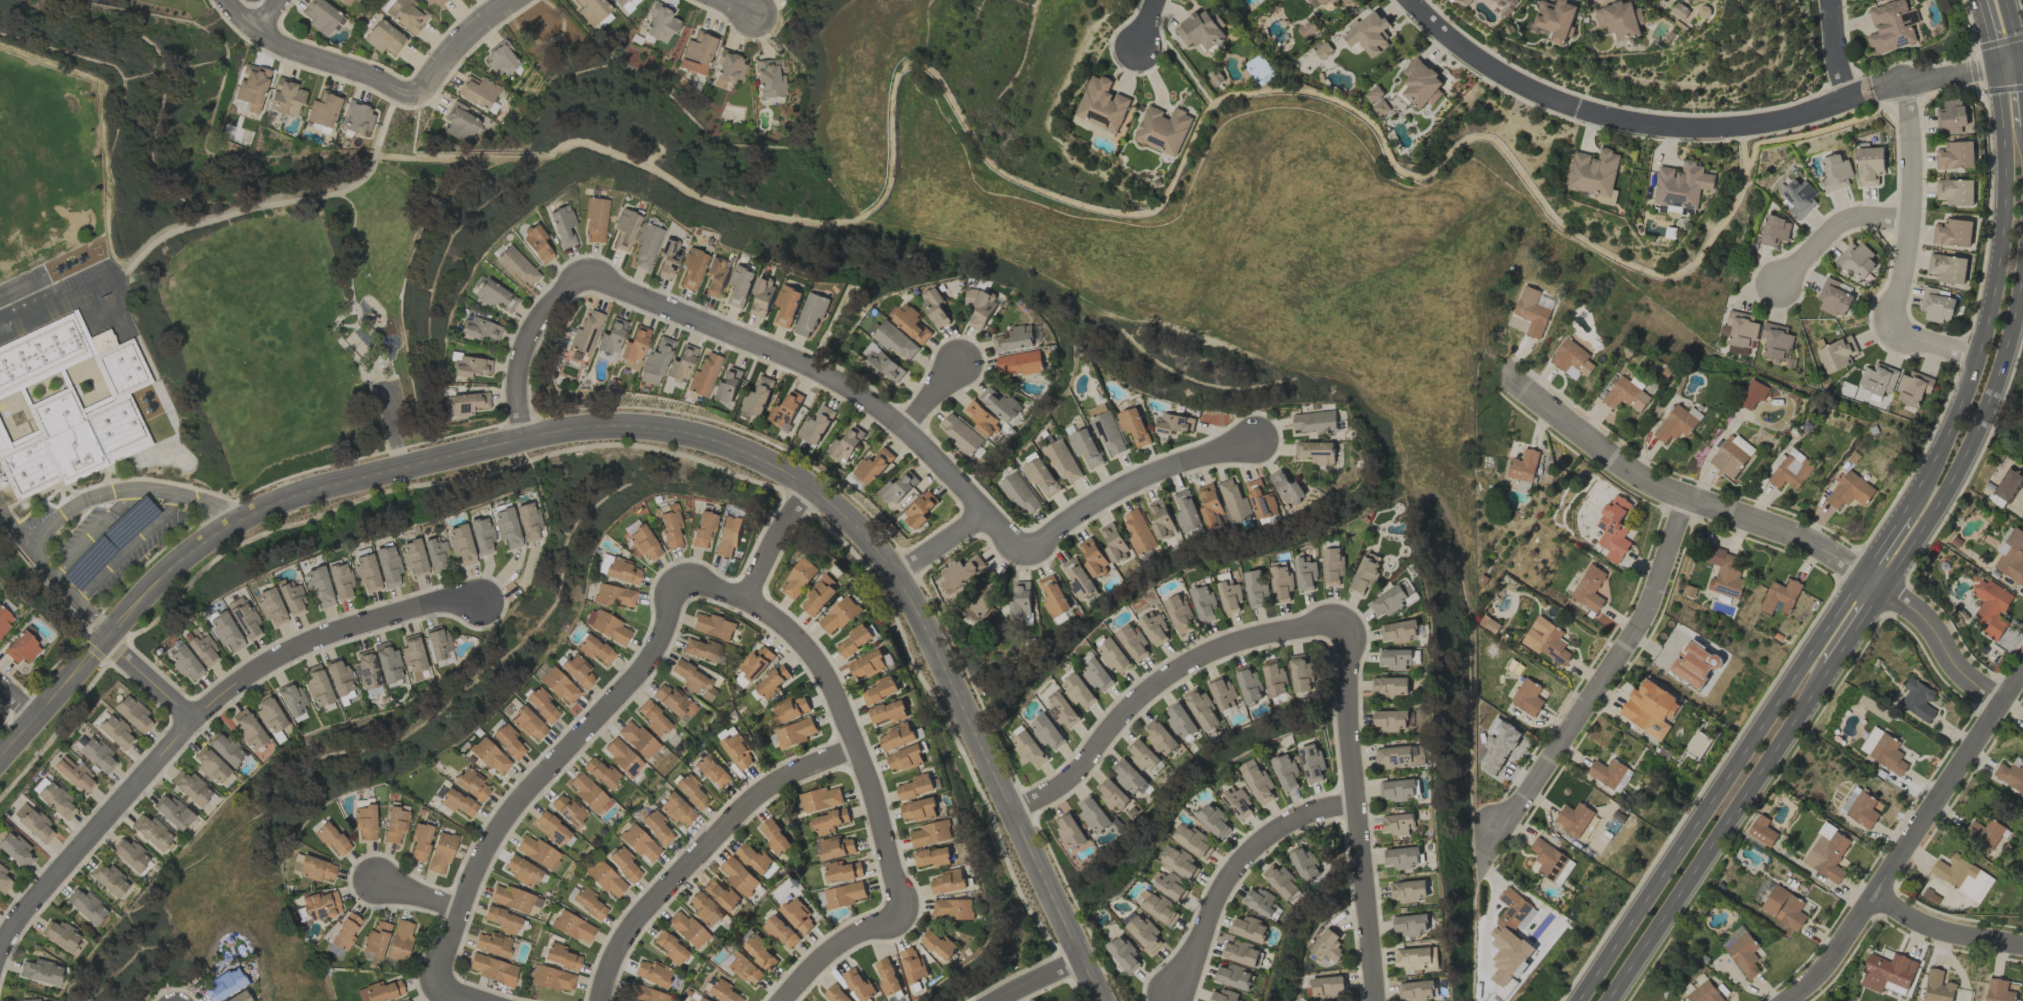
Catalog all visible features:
park: (251, 0)
building: (1345, 0)
building: (1321, 1)
building: (1332, 1)
building: (344, 2)
building: (434, 2)
building: (1508, 2)
building: (626, 4)
road: (739, 6)
building: (1679, 9)
building: (592, 10)
building: (407, 15)
road: (255, 17)
road: (271, 17)
building: (323, 17)
building: (1556, 19)
building: (1620, 19)
building: (660, 23)
road: (1145, 25)
building: (1891, 26)
building: (1201, 29)
road: (2012, 30)
building: (1368, 33)
road: (1985, 33)
building: (383, 38)
road: (462, 46)
building: (1322, 50)
road: (1838, 50)
building: (697, 53)
road: (320, 56)
building: (502, 60)
road: (2022, 61)
traffic signals: (2022, 62)
road: (2008, 64)
road: (2022, 66)
traffic signals: (1995, 67)
building: (729, 69)
road: (1933, 79)
building: (769, 80)
building: (1420, 83)
building: (252, 87)
building: (478, 92)
building: (1372, 94)
building: (285, 98)
building: (1101, 104)
building: (1380, 108)
building: (323, 110)
building: (1951, 116)
building: (358, 118)
road: (1625, 121)
building: (460, 123)
building: (1162, 129)
building: (1955, 155)
building: (1869, 165)
building: (1593, 171)
building: (1834, 172)
building: (1681, 184)
building: (1954, 191)
road: (1162, 195)
building: (1797, 196)
building: (1608, 198)
road: (276, 204)
road: (1906, 209)
building: (596, 219)
building: (563, 227)
building: (625, 230)
building: (1774, 230)
road: (1832, 232)
building: (1952, 232)
building: (537, 244)
building: (646, 246)
building: (668, 259)
building: (1856, 259)
building: (517, 267)
building: (1947, 267)
building: (692, 268)
building: (715, 276)
building: (739, 285)
building: (762, 295)
building: (496, 296)
building: (1834, 298)
road: (1992, 298)
building: (786, 304)
building: (1936, 305)
building: (934, 307)
building: (981, 309)
building: (1533, 310)
building: (810, 313)
road: (335, 321)
park: (288, 322)
building: (910, 323)
building: (480, 329)
building: (1739, 331)
road: (722, 332)
building: (584, 336)
building: (1013, 339)
building: (610, 340)
building: (894, 340)
building: (1775, 340)
road: (1933, 345)
building: (633, 347)
building: (1836, 353)
building: (1569, 357)
building: (655, 362)
building: (882, 362)
building: (1019, 363)
building: (681, 364)
building: (470, 367)
building: (704, 375)
building: (1877, 378)
building: (727, 386)
building: (1912, 387)
building: (1626, 393)
building: (1752, 394)
building: (757, 396)
road: (935, 397)
building: (465, 403)
building: (999, 404)
building: (70, 407)
building: (786, 411)
building: (980, 418)
building: (1313, 421)
building: (1172, 423)
building: (1676, 423)
building: (816, 424)
building: (1133, 425)
road: (389, 428)
building: (1106, 431)
road: (650, 432)
building: (959, 433)
road: (1972, 439)
building: (846, 443)
building: (1085, 446)
building: (1316, 451)
building: (1731, 455)
building: (1061, 459)
building: (1523, 465)
building: (872, 466)
building: (1790, 469)
building: (1041, 476)
building: (2007, 483)
building: (1522, 485)
building: (897, 487)
building: (1286, 487)
building: (1849, 490)
road: (1114, 492)
building: (1020, 493)
road: (1674, 497)
building: (1261, 500)
building: (1233, 501)
road: (226, 504)
building: (1210, 506)
road: (72, 508)
building: (920, 510)
building: (1185, 510)
building: (1161, 519)
building: (528, 521)
building: (669, 525)
building: (506, 528)
building: (702, 528)
building: (1613, 528)
building: (1137, 531)
building: (728, 536)
building: (481, 537)
building: (1113, 542)
building: (643, 543)
road: (938, 543)
building: (460, 544)
road: (776, 545)
road: (1884, 547)
building: (436, 554)
building: (2011, 556)
building: (413, 558)
building: (1092, 558)
building: (1331, 565)
building: (387, 566)
building: (622, 571)
building: (962, 571)
building: (366, 572)
building: (1365, 572)
building: (1304, 573)
building: (1724, 573)
building: (1077, 577)
building: (798, 578)
building: (340, 581)
building: (1280, 581)
road: (1871, 586)
building: (318, 588)
building: (1254, 588)
building: (1589, 588)
building: (818, 595)
building: (984, 595)
building: (614, 596)
building: (1052, 596)
building: (1779, 596)
building: (1229, 597)
building: (291, 598)
building: (1392, 599)
building: (1021, 602)
building: (1202, 603)
building: (271, 607)
building: (1990, 607)
building: (1178, 613)
building: (839, 615)
building: (243, 618)
building: (4, 620)
building: (1487, 624)
building: (607, 626)
building: (713, 626)
building: (1152, 626)
building: (225, 631)
building: (1399, 631)
road: (1854, 632)
building: (854, 640)
building: (1546, 640)
building: (1131, 641)
building: (437, 643)
road: (1942, 647)
building: (21, 648)
building: (594, 649)
building: (702, 650)
building: (203, 651)
building: (412, 653)
building: (1112, 655)
building: (1396, 658)
building: (185, 663)
building: (387, 663)
building: (866, 664)
building: (366, 670)
building: (577, 672)
building: (1300, 673)
building: (1096, 675)
building: (339, 678)
building: (1275, 679)
road: (151, 680)
building: (693, 680)
building: (771, 682)
building: (1249, 683)
building: (317, 686)
building: (558, 686)
building: (1389, 686)
building: (879, 690)
building: (1077, 691)
building: (1222, 692)
road: (1149, 694)
building: (1527, 697)
road: (1604, 697)
building: (292, 699)
building: (1917, 699)
road: (18, 701)
building: (673, 702)
building: (541, 704)
building: (790, 708)
building: (1649, 708)
building: (1202, 709)
building: (888, 711)
building: (1061, 711)
building: (133, 714)
building: (269, 714)
road: (195, 716)
building: (653, 719)
building: (1180, 720)
building: (1390, 720)
building: (528, 724)
building: (248, 729)
building: (116, 732)
building: (795, 732)
building: (1046, 732)
building: (896, 736)
building: (1160, 737)
building: (637, 739)
building: (507, 741)
building: (1497, 746)
building: (1027, 748)
building: (225, 749)
building: (1883, 750)
building: (738, 751)
road: (566, 752)
building: (95, 754)
building: (1143, 755)
building: (1400, 755)
building: (489, 756)
building: (622, 757)
building: (904, 757)
building: (1310, 762)
building: (211, 766)
building: (711, 770)
building: (1285, 772)
building: (602, 773)
building: (1610, 773)
building: (75, 775)
building: (2010, 775)
building: (1128, 776)
building: (1255, 780)
building: (472, 785)
building: (916, 786)
building: (191, 788)
building: (1397, 789)
road: (1718, 789)
building: (690, 791)
building: (587, 792)
building: (1112, 793)
building: (820, 799)
building: (1848, 799)
building: (56, 801)
building: (1235, 802)
building: (457, 803)
road: (877, 807)
road: (1360, 807)
building: (919, 809)
building: (567, 810)
building: (676, 810)
building: (1862, 810)
building: (172, 812)
building: (1093, 814)
building: (1573, 818)
building: (1212, 820)
building: (829, 821)
building: (365, 822)
building: (33, 823)
building: (1398, 823)
building: (395, 824)
building: (656, 827)
building: (550, 828)
building: (1825, 829)
building: (1070, 830)
building: (1761, 831)
building: (151, 832)
building: (1984, 832)
building: (931, 833)
road: (1718, 836)
building: (775, 837)
building: (331, 838)
road: (1910, 838)
building: (420, 841)
building: (1193, 842)
building: (639, 843)
building: (836, 847)
building: (15, 850)
road: (706, 851)
building: (441, 852)
building: (537, 852)
building: (131, 856)
building: (932, 856)
building: (1403, 856)
building: (1827, 856)
building: (754, 857)
building: (1551, 861)
building: (1179, 862)
building: (623, 864)
building: (1305, 864)
building: (316, 869)
building: (842, 870)
building: (522, 872)
road: (1237, 872)
building: (738, 875)
building: (1962, 876)
building: (109, 879)
building: (605, 879)
building: (3, 881)
building: (1280, 881)
building: (947, 882)
building: (1171, 886)
building: (1408, 890)
building: (844, 894)
building: (721, 895)
road: (420, 897)
building: (513, 899)
building: (1260, 901)
building: (587, 902)
building: (321, 905)
building: (86, 907)
building: (1784, 907)
building: (953, 908)
building: (1159, 908)
building: (703, 909)
building: (1512, 911)
building: (797, 915)
building: (503, 920)
road: (1946, 921)
building: (1409, 924)
building: (573, 927)
building: (1248, 928)
building: (687, 929)
building: (1141, 930)
building: (779, 931)
building: (345, 932)
building: (59, 935)
building: (400, 940)
building: (376, 942)
building: (939, 944)
building: (492, 945)
building: (1326, 945)
building: (670, 949)
building: (759, 952)
building: (1242, 953)
building: (1123, 954)
building: (1744, 954)
building: (561, 957)
building: (1417, 958)
building: (912, 963)
building: (492, 969)
building: (744, 969)
building: (41, 972)
building: (652, 973)
building: (1887, 973)
building: (887, 976)
building: (1233, 976)
road: (1039, 978)
building: (552, 979)
building: (859, 984)
building: (223, 985)
building: (1327, 986)
building: (1416, 990)
building: (1998, 990)
building: (380, 991)
building: (721, 992)
building: (1704, 992)
road: (460, 994)
building: (646, 994)
building: (835, 994)
building: (1224, 995)
building: (239, 997)
building: (699, 999)
building: (37, 1000)

